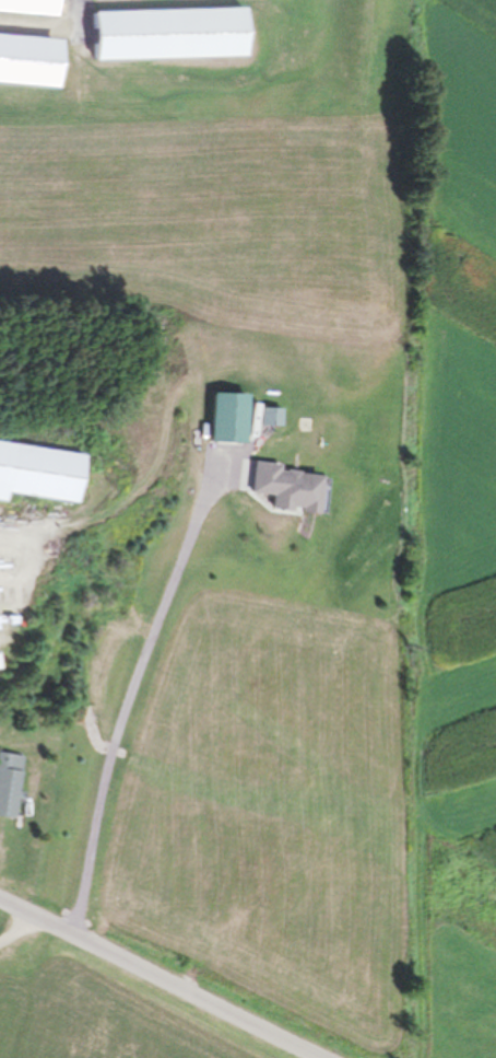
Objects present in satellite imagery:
building: (165, 34)
building: (27, 60)
building: (231, 419)
building: (38, 474)
building: (293, 489)
building: (10, 786)
road: (19, 930)
road: (162, 975)

